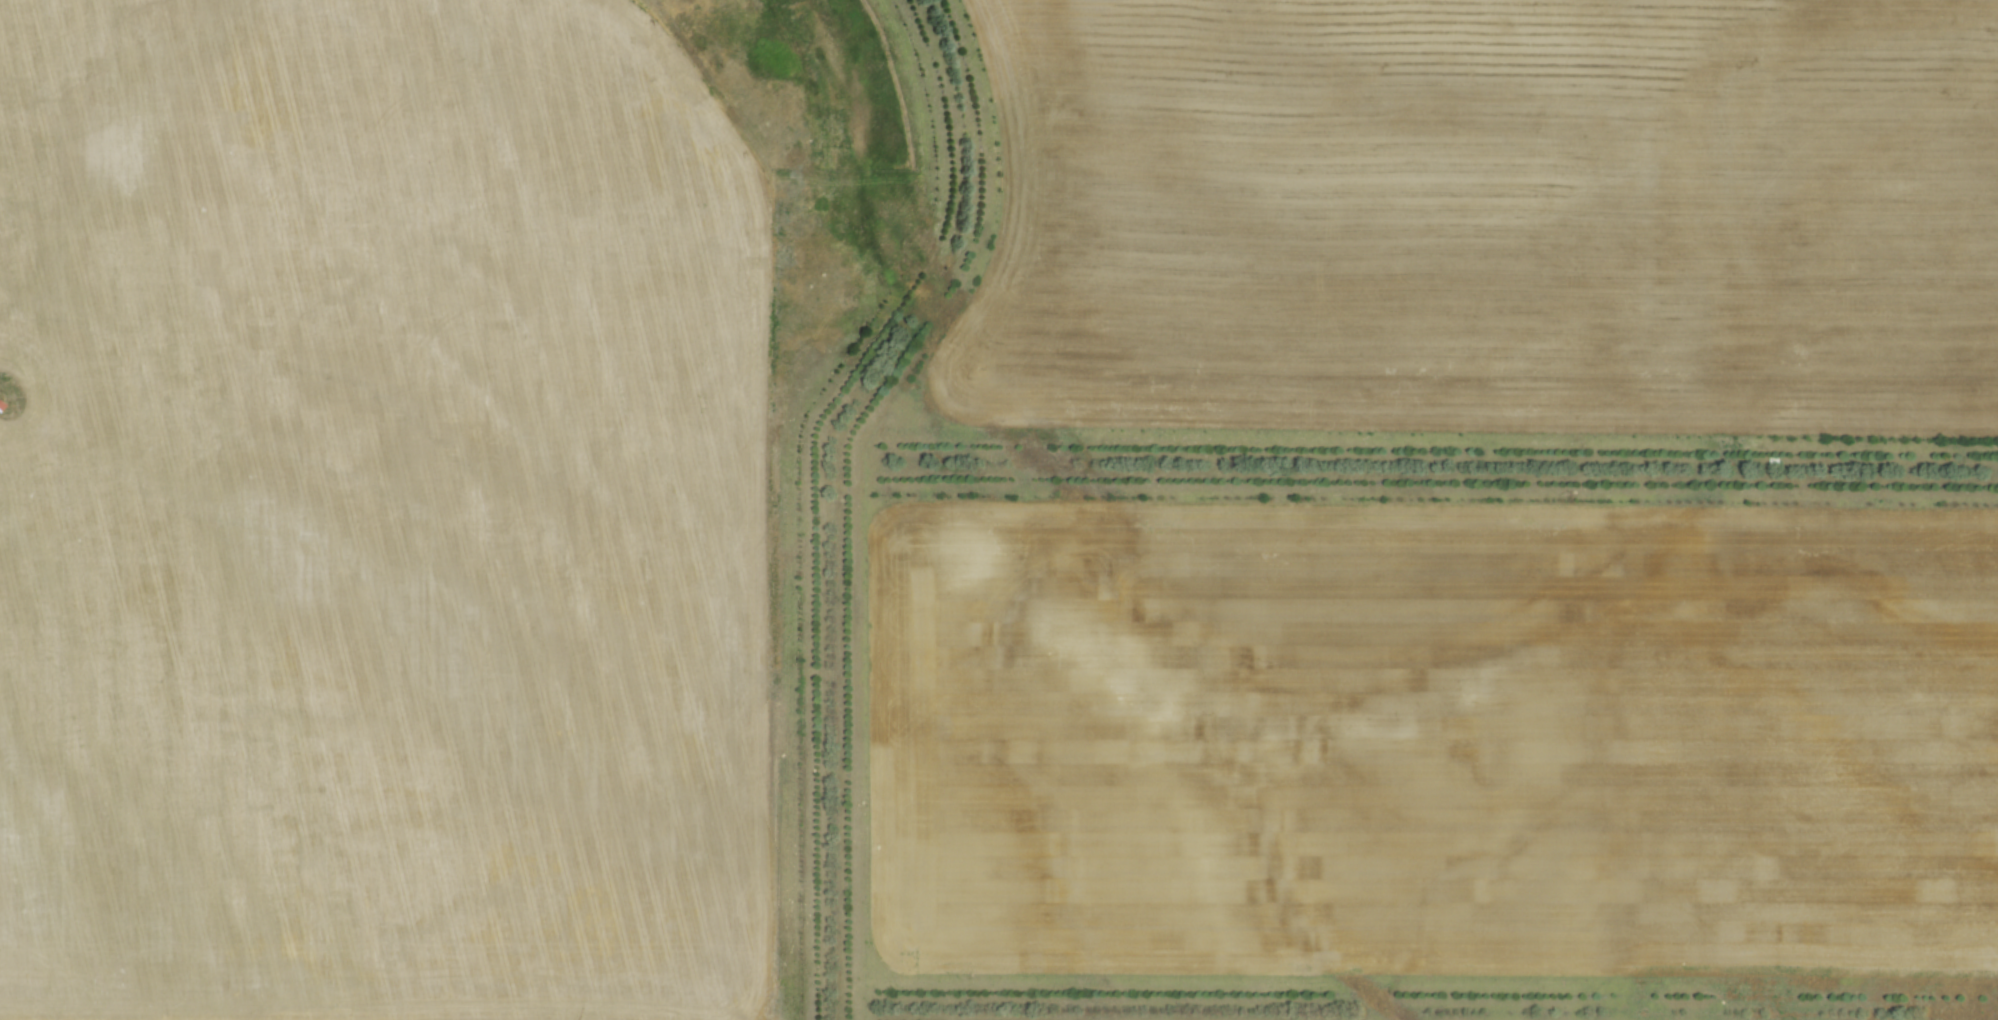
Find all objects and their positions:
crop: (1499, 208)
crop: (379, 517)
crop: (1437, 740)

